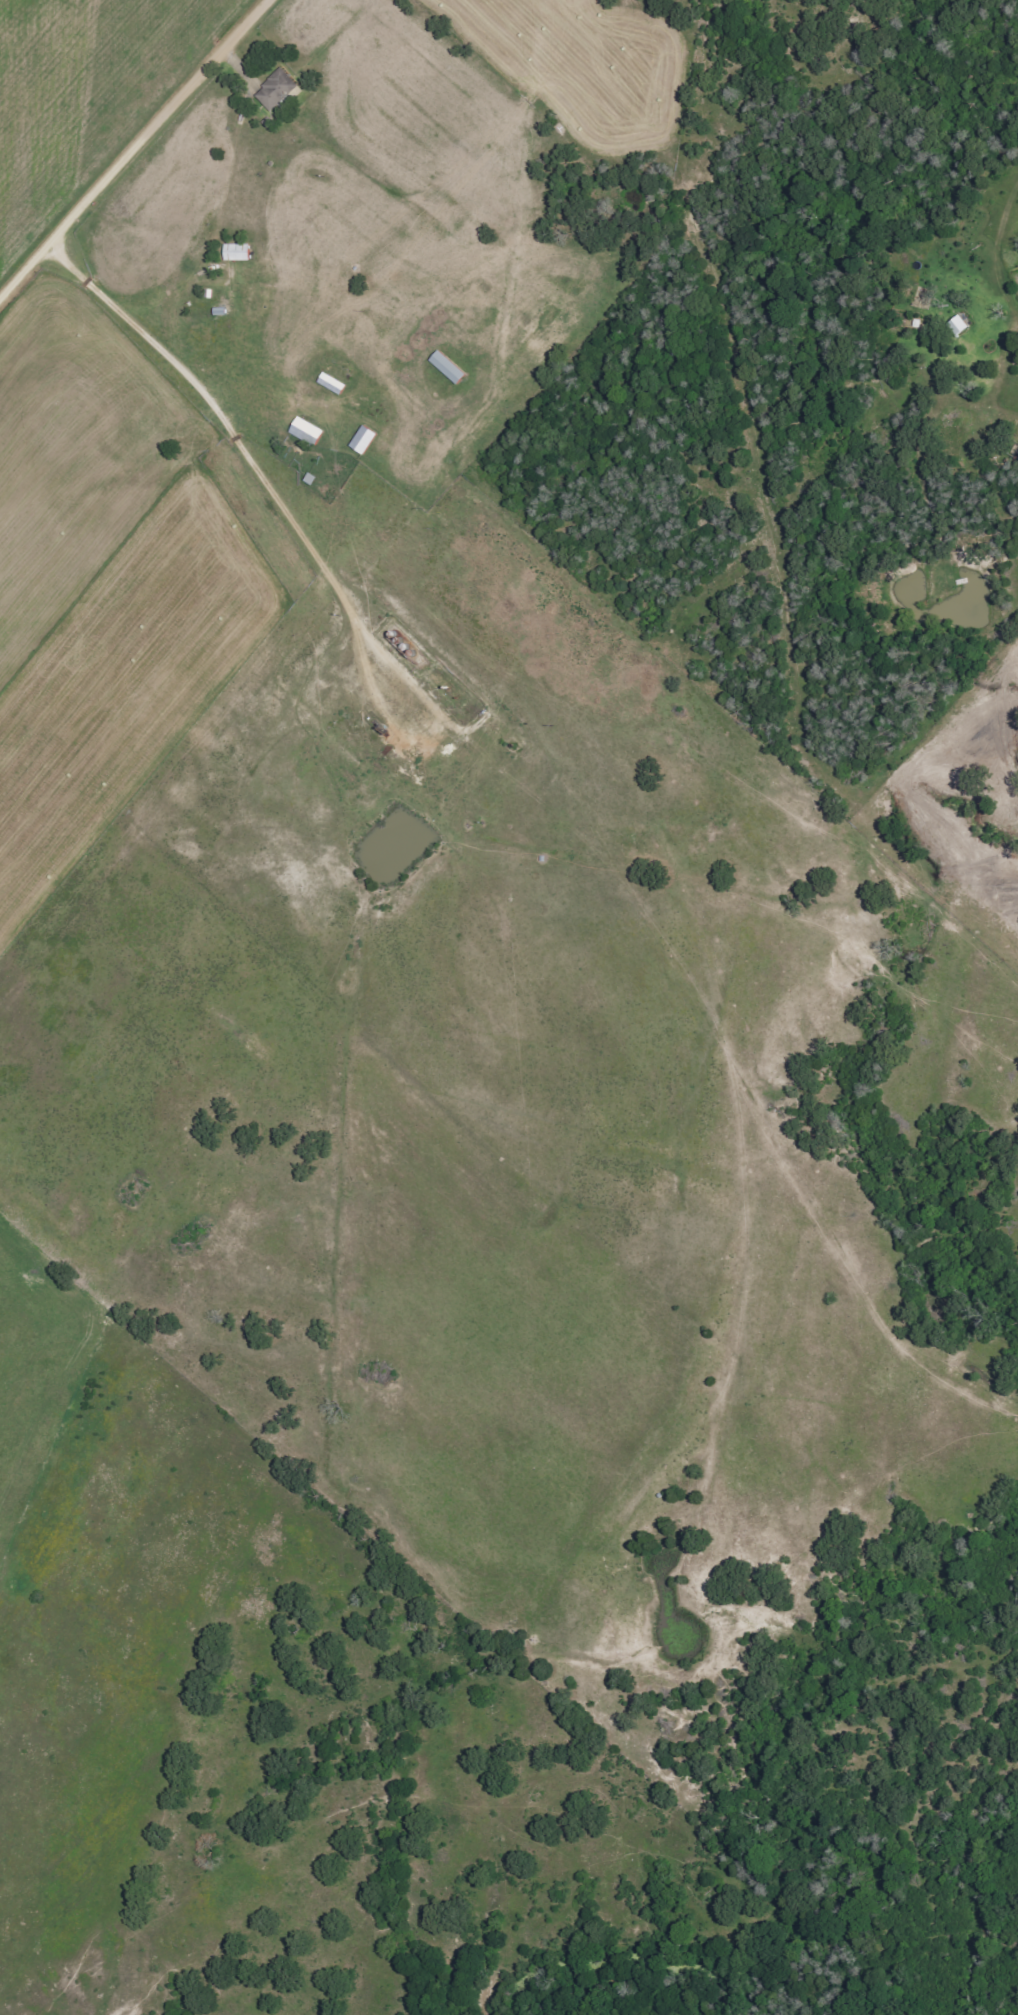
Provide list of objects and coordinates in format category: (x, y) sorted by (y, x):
building: (279, 90)
road: (129, 144)
building: (241, 253)
building: (960, 327)
building: (451, 368)
building: (335, 385)
building: (310, 433)
building: (367, 441)

